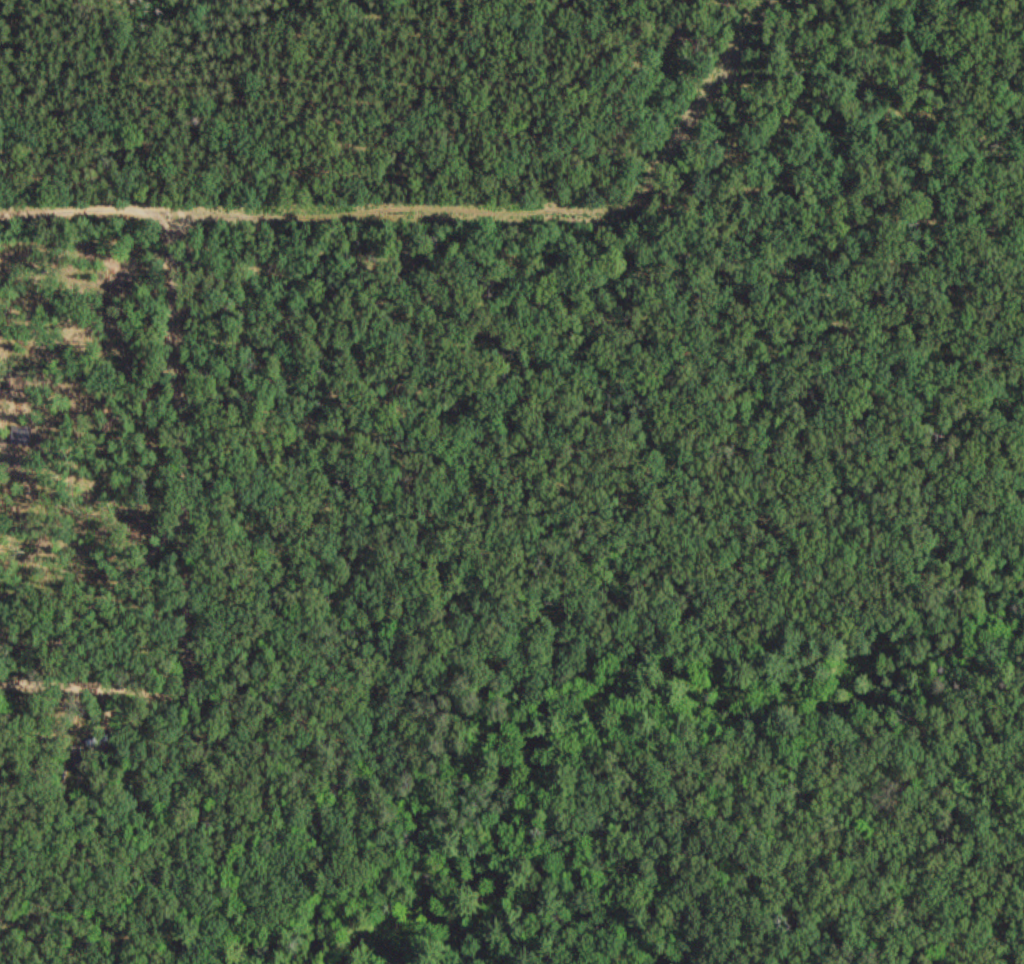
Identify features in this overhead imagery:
road: (83, 216)
road: (164, 534)

